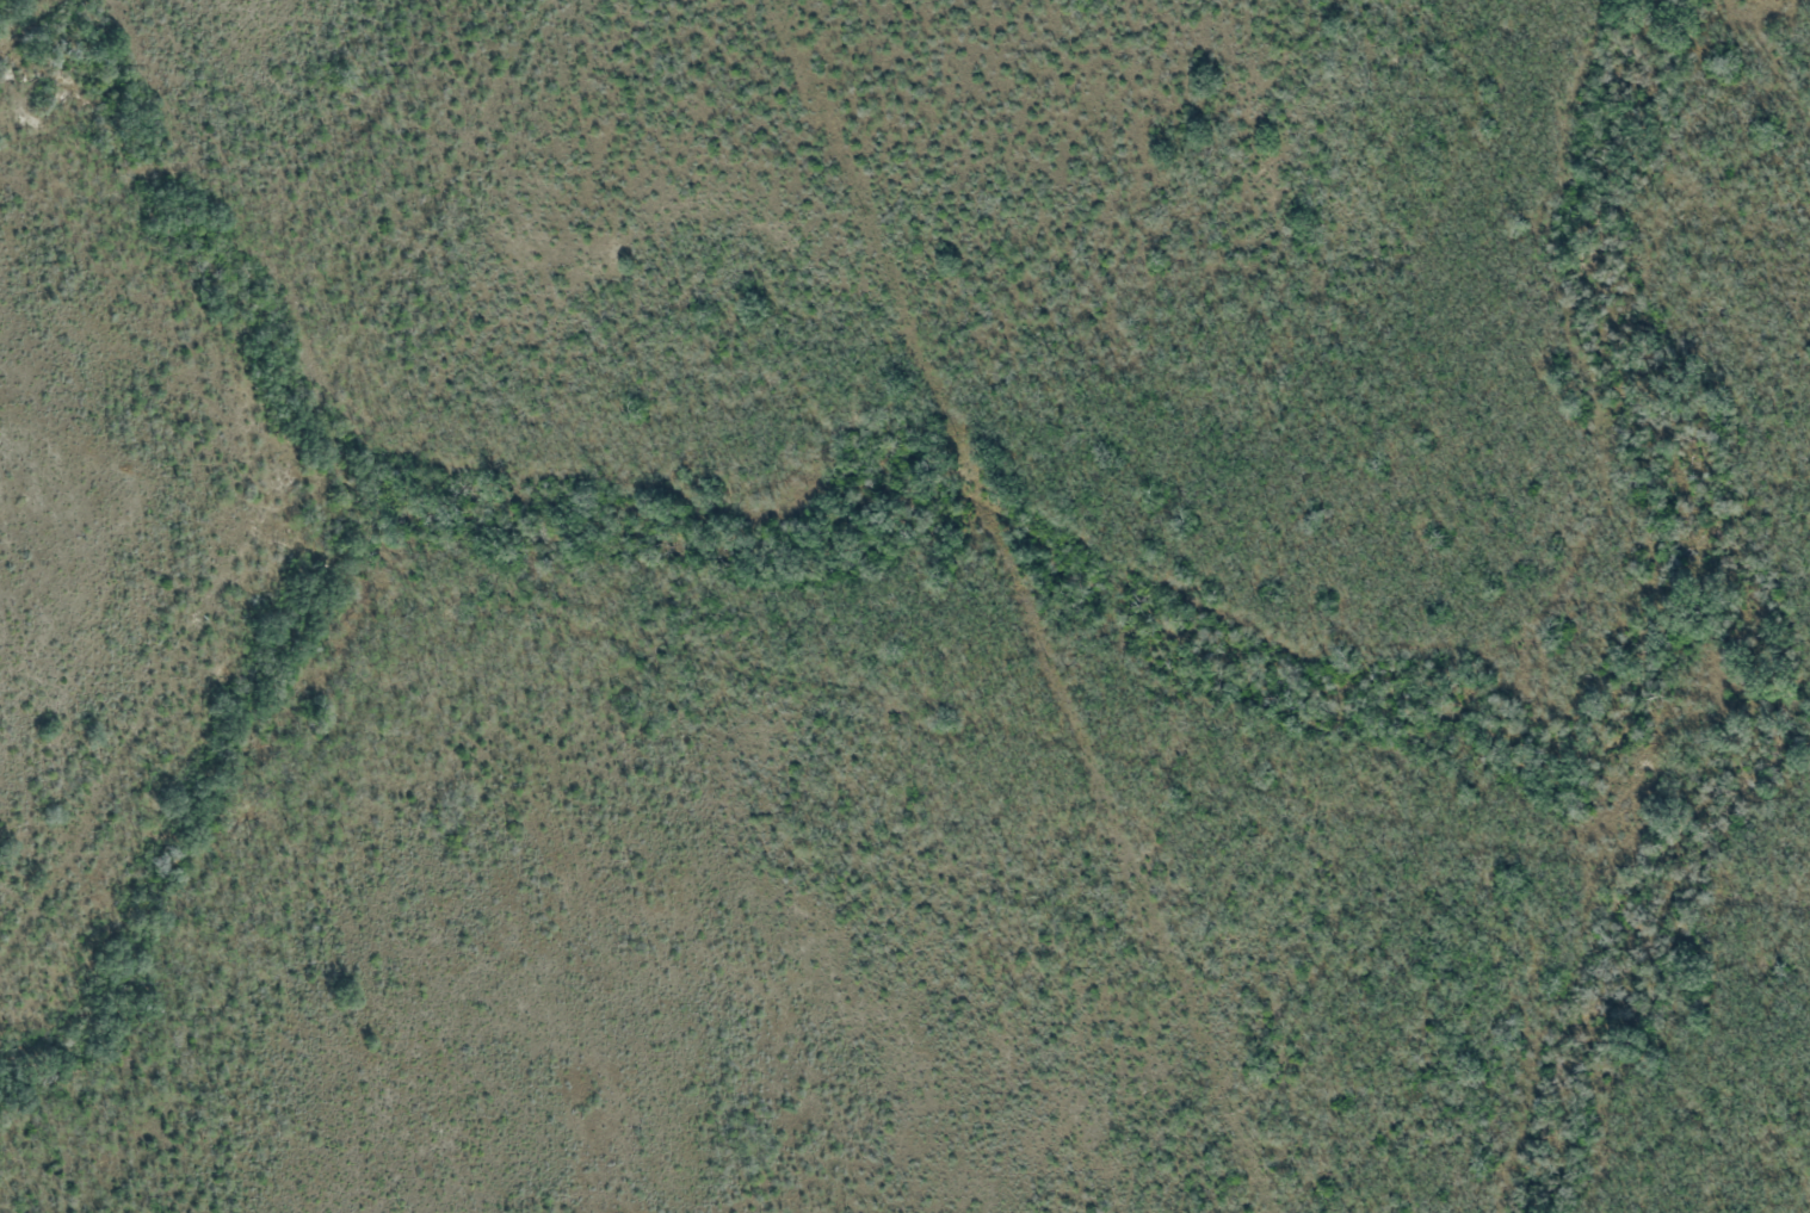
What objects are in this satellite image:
road: (25, 21)

